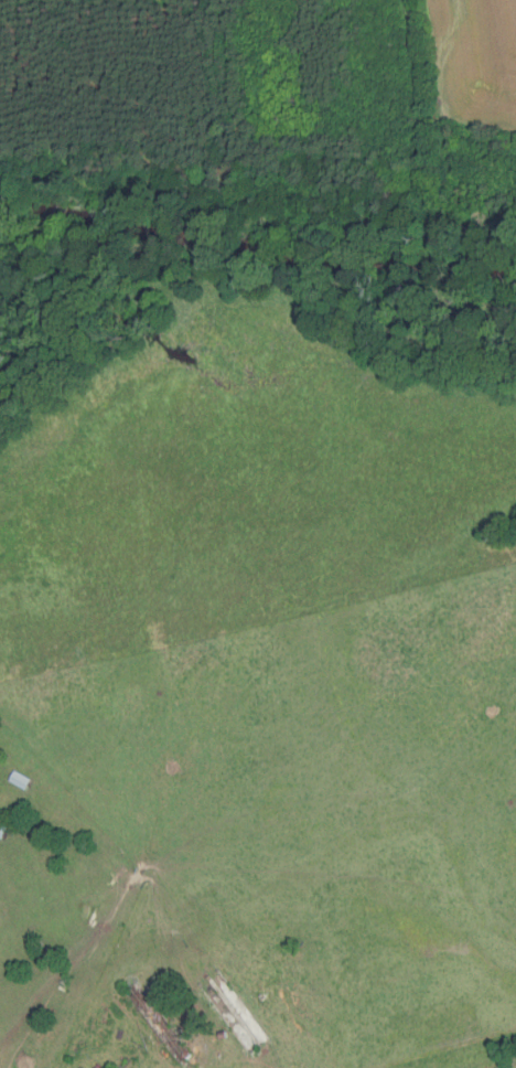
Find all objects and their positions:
crop: (1, 0)
crop: (474, 63)
building: (22, 780)
building: (2, 831)
building: (159, 1022)
building: (223, 1035)

